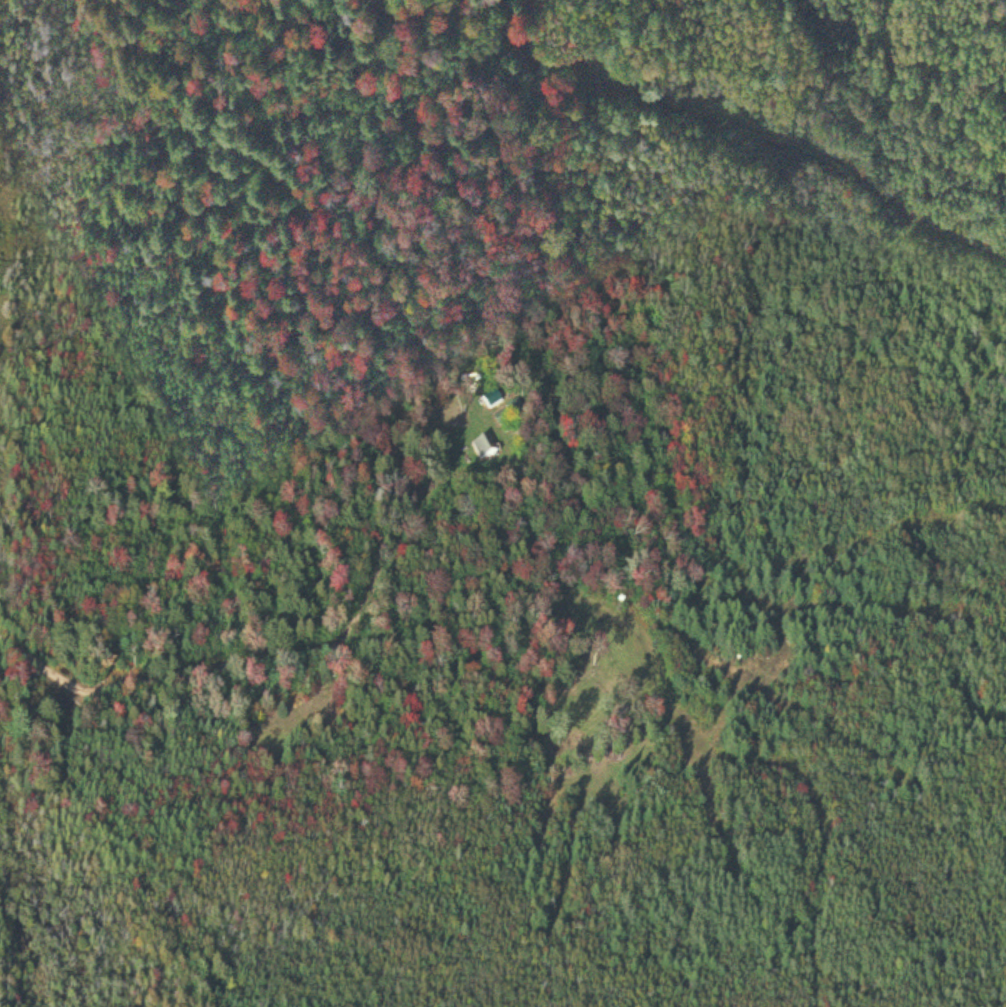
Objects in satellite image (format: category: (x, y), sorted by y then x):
building: (493, 401)
building: (482, 450)
road: (11, 937)

